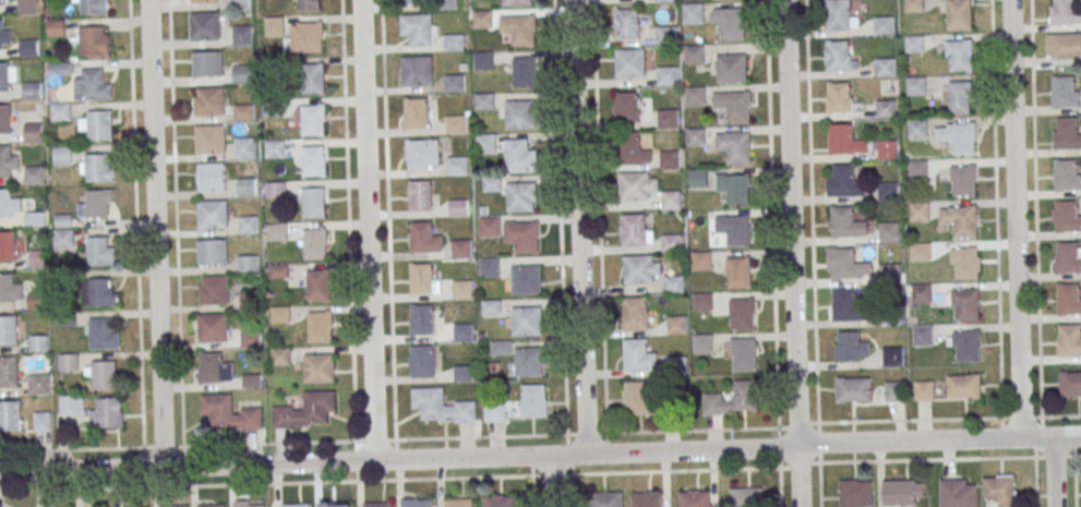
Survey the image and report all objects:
building: (208, 1)
building: (412, 1)
building: (665, 1)
building: (4, 2)
building: (516, 2)
building: (240, 3)
building: (91, 5)
building: (310, 5)
building: (913, 5)
building: (27, 7)
building: (1066, 11)
building: (693, 13)
building: (960, 14)
building: (841, 15)
building: (482, 19)
building: (730, 23)
building: (627, 24)
building: (884, 25)
building: (205, 26)
building: (274, 26)
building: (56, 28)
building: (421, 29)
building: (519, 29)
building: (665, 34)
building: (242, 35)
building: (310, 37)
building: (5, 38)
building: (93, 41)
building: (454, 41)
building: (914, 44)
building: (1066, 46)
building: (31, 48)
building: (694, 55)
building: (959, 55)
building: (840, 57)
building: (484, 60)
building: (632, 63)
building: (208, 64)
building: (885, 67)
building: (731, 69)
building: (417, 71)
building: (525, 72)
building: (242, 74)
building: (4, 76)
building: (668, 76)
building: (313, 79)
building: (455, 83)
building: (92, 85)
building: (916, 86)
building: (33, 89)
building: (1065, 93)
building: (695, 96)
building: (839, 97)
building: (961, 97)
building: (484, 101)
building: (209, 102)
building: (733, 105)
building: (627, 106)
building: (272, 109)
building: (886, 109)
building: (62, 112)
building: (243, 112)
building: (416, 113)
building: (520, 114)
building: (5, 119)
building: (668, 119)
building: (313, 120)
building: (456, 124)
building: (97, 125)
building: (917, 129)
building: (35, 131)
building: (1067, 134)
building: (696, 136)
building: (958, 136)
building: (211, 138)
building: (844, 140)
building: (487, 144)
building: (738, 147)
building: (244, 148)
building: (275, 149)
building: (633, 149)
building: (888, 149)
building: (423, 154)
building: (63, 156)
building: (520, 156)
building: (670, 158)
building: (8, 160)
building: (314, 160)
building: (457, 166)
building: (96, 168)
building: (917, 169)
building: (36, 174)
building: (1066, 176)
building: (212, 177)
building: (963, 181)
building: (844, 182)
building: (492, 184)
building: (635, 186)
building: (247, 188)
building: (738, 189)
building: (276, 190)
building: (890, 191)
building: (421, 195)
building: (521, 196)
building: (671, 200)
building: (7, 203)
building: (314, 203)
building: (96, 204)
building: (459, 207)
road: (812, 212)
building: (918, 212)
building: (213, 214)
building: (1067, 216)
road: (1016, 218)
building: (35, 219)
road: (387, 219)
building: (960, 219)
building: (846, 222)
building: (248, 225)
building: (490, 227)
road: (578, 227)
road: (368, 230)
building: (635, 230)
building: (277, 231)
building: (738, 231)
building: (889, 232)
road: (155, 233)
building: (523, 236)
building: (64, 238)
building: (425, 239)
building: (672, 242)
building: (315, 244)
building: (8, 246)
building: (463, 249)
building: (101, 251)
building: (213, 252)
building: (920, 252)
road: (791, 253)
building: (1067, 257)
building: (38, 258)
building: (701, 261)
building: (965, 263)
building: (849, 264)
building: (490, 267)
building: (890, 271)
building: (650, 273)
building: (740, 273)
building: (423, 278)
building: (527, 279)
building: (317, 286)
building: (10, 288)
building: (461, 289)
building: (214, 290)
building: (103, 292)
building: (921, 293)
building: (37, 300)
building: (1069, 300)
building: (702, 301)
building: (964, 303)
building: (846, 304)
building: (491, 307)
building: (742, 313)
building: (280, 314)
building: (637, 314)
building: (422, 319)
building: (528, 322)
building: (677, 325)
building: (214, 327)
building: (320, 327)
building: (9, 329)
building: (463, 333)
building: (103, 335)
building: (922, 335)
building: (1069, 340)
building: (39, 343)
building: (702, 343)
building: (965, 345)
building: (851, 347)
building: (501, 348)
building: (745, 353)
building: (280, 357)
building: (638, 357)
building: (893, 357)
building: (422, 361)
building: (529, 362)
building: (68, 363)
building: (676, 363)
building: (319, 367)
building: (215, 370)
building: (9, 371)
building: (463, 373)
building: (101, 374)
building: (39, 384)
building: (1070, 384)
building: (963, 386)
building: (853, 389)
building: (924, 390)
building: (893, 391)
building: (745, 395)
building: (639, 398)
building: (535, 400)
building: (72, 405)
building: (442, 407)
building: (305, 411)
building: (495, 411)
building: (107, 413)
building: (229, 413)
building: (10, 415)
road: (949, 419)
building: (43, 421)
road: (807, 423)
road: (625, 434)
road: (540, 455)
road: (950, 458)
road: (675, 471)
road: (1056, 471)
road: (819, 474)
road: (550, 480)
road: (1076, 481)
road: (1036, 482)
road: (286, 483)
building: (1001, 490)
building: (903, 492)
building: (856, 493)
building: (958, 493)
building: (747, 497)
building: (647, 498)
building: (695, 498)
building: (606, 499)
building: (500, 500)
building: (417, 503)
building: (459, 503)
building: (250, 504)
building: (212, 505)
building: (296, 505)
building: (336, 505)
building: (377, 505)
building: (173, 506)

